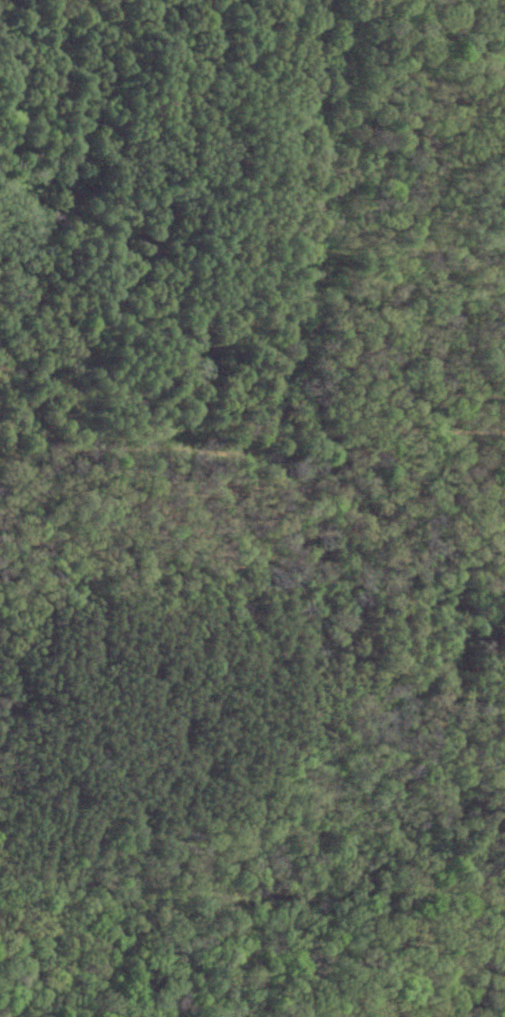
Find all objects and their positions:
road: (252, 398)

